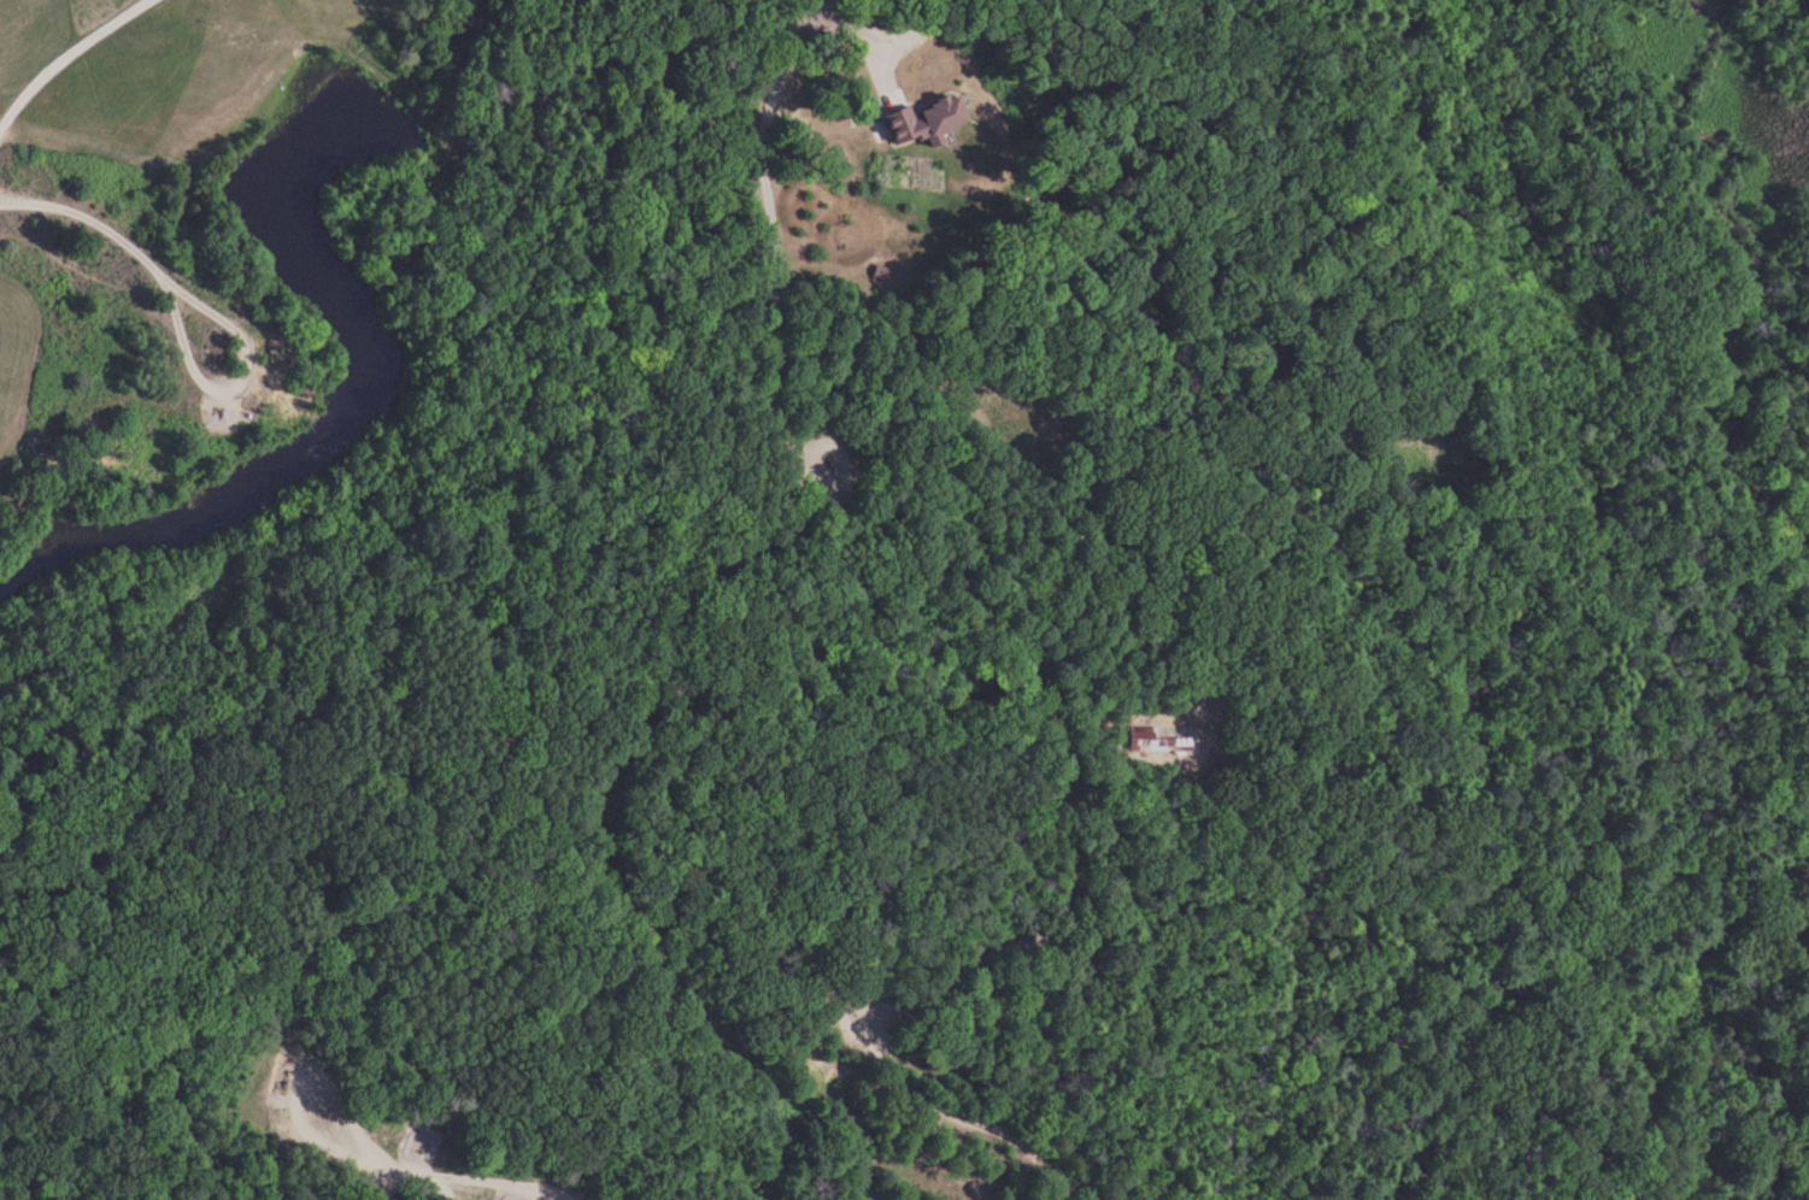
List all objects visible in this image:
road: (69, 58)
building: (929, 123)
road: (125, 240)
road: (917, 405)
building: (1152, 740)
road: (1652, 852)
road: (382, 910)
road: (911, 1019)
road: (1547, 1100)

